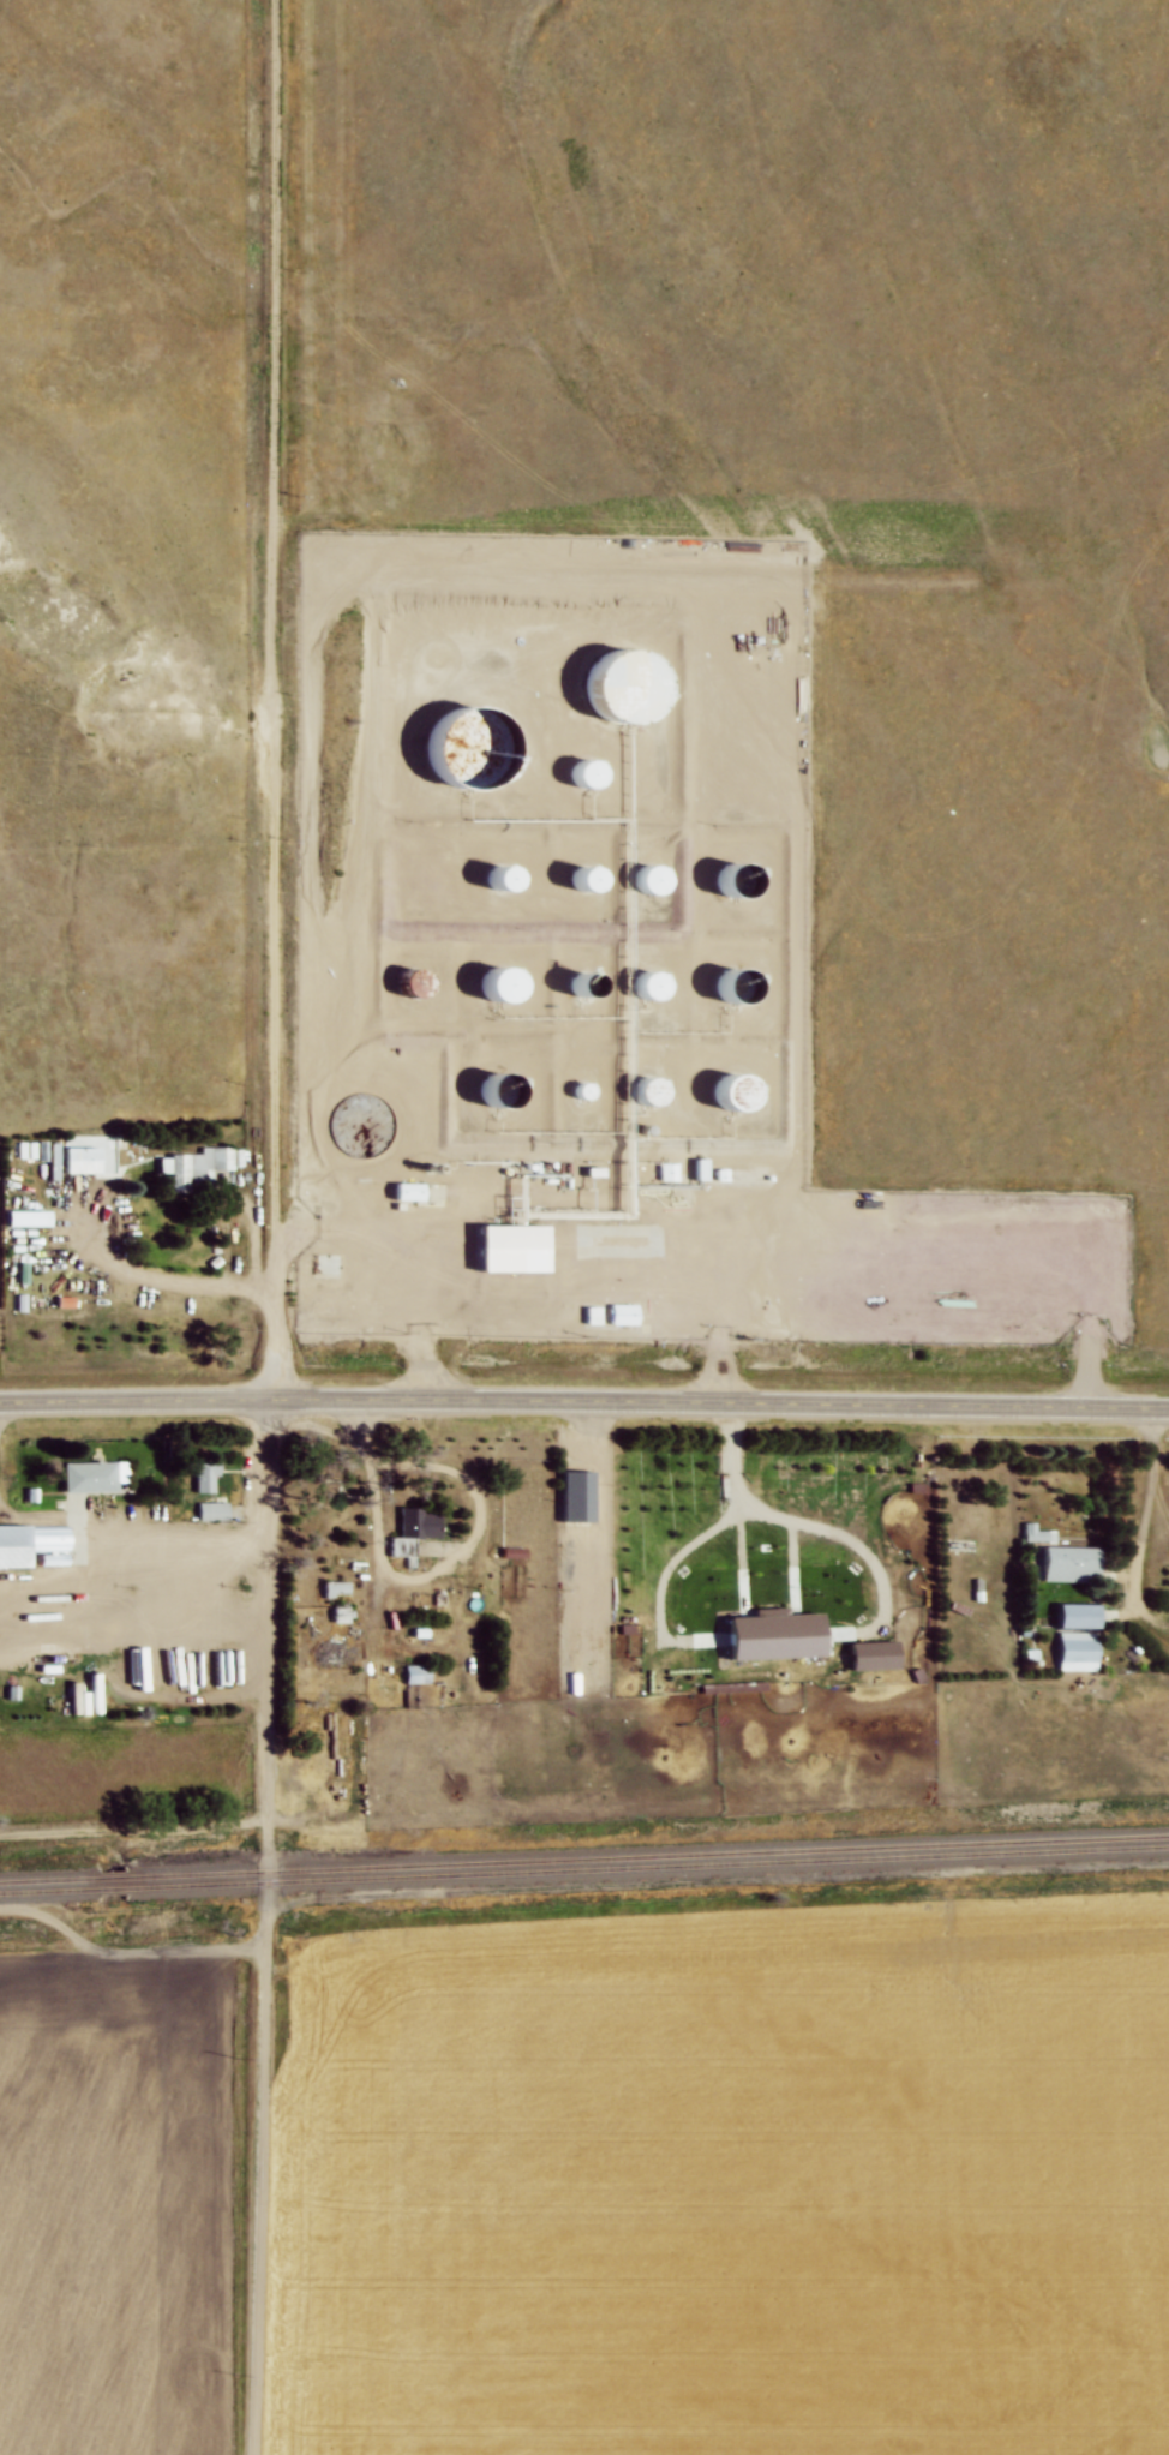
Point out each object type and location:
building: (630, 687)
storage tank: (630, 687)
building: (475, 748)
storage tank: (475, 748)
building: (595, 771)
storage tank: (595, 771)
building: (514, 875)
storage tank: (514, 875)
building: (647, 876)
building: (593, 878)
storage tank: (593, 878)
building: (663, 878)
storage tank: (663, 878)
building: (739, 881)
storage tank: (739, 881)
building: (593, 982)
storage tank: (593, 982)
building: (502, 984)
storage tank: (502, 984)
building: (741, 984)
storage tank: (741, 984)
building: (647, 986)
building: (661, 986)
storage tank: (661, 986)
building: (498, 1091)
storage tank: (498, 1091)
building: (653, 1092)
storage tank: (653, 1092)
building: (738, 1092)
storage tank: (738, 1092)
building: (583, 1094)
storage tank: (583, 1094)
building: (361, 1122)
storage tank: (361, 1122)
building: (83, 1160)
building: (197, 1167)
building: (700, 1169)
building: (671, 1170)
building: (739, 1176)
road: (278, 1227)
building: (504, 1250)
road: (822, 1265)
road: (406, 1270)
road: (161, 1282)
road: (723, 1333)
road: (584, 1397)
road: (432, 1462)
building: (204, 1473)
building: (95, 1477)
building: (580, 1493)
building: (214, 1510)
road: (1147, 1510)
building: (414, 1532)
building: (1038, 1532)
road: (127, 1533)
building: (13, 1545)
building: (1073, 1561)
road: (414, 1577)
building: (337, 1585)
building: (341, 1611)
building: (1079, 1612)
building: (1077, 1649)
building: (416, 1673)
railway: (651, 1855)
railway: (652, 1867)
railway: (113, 1875)
railway: (47, 1878)
railway: (113, 1887)
railway: (46, 1890)
crop: (731, 2186)
crop: (109, 2200)

